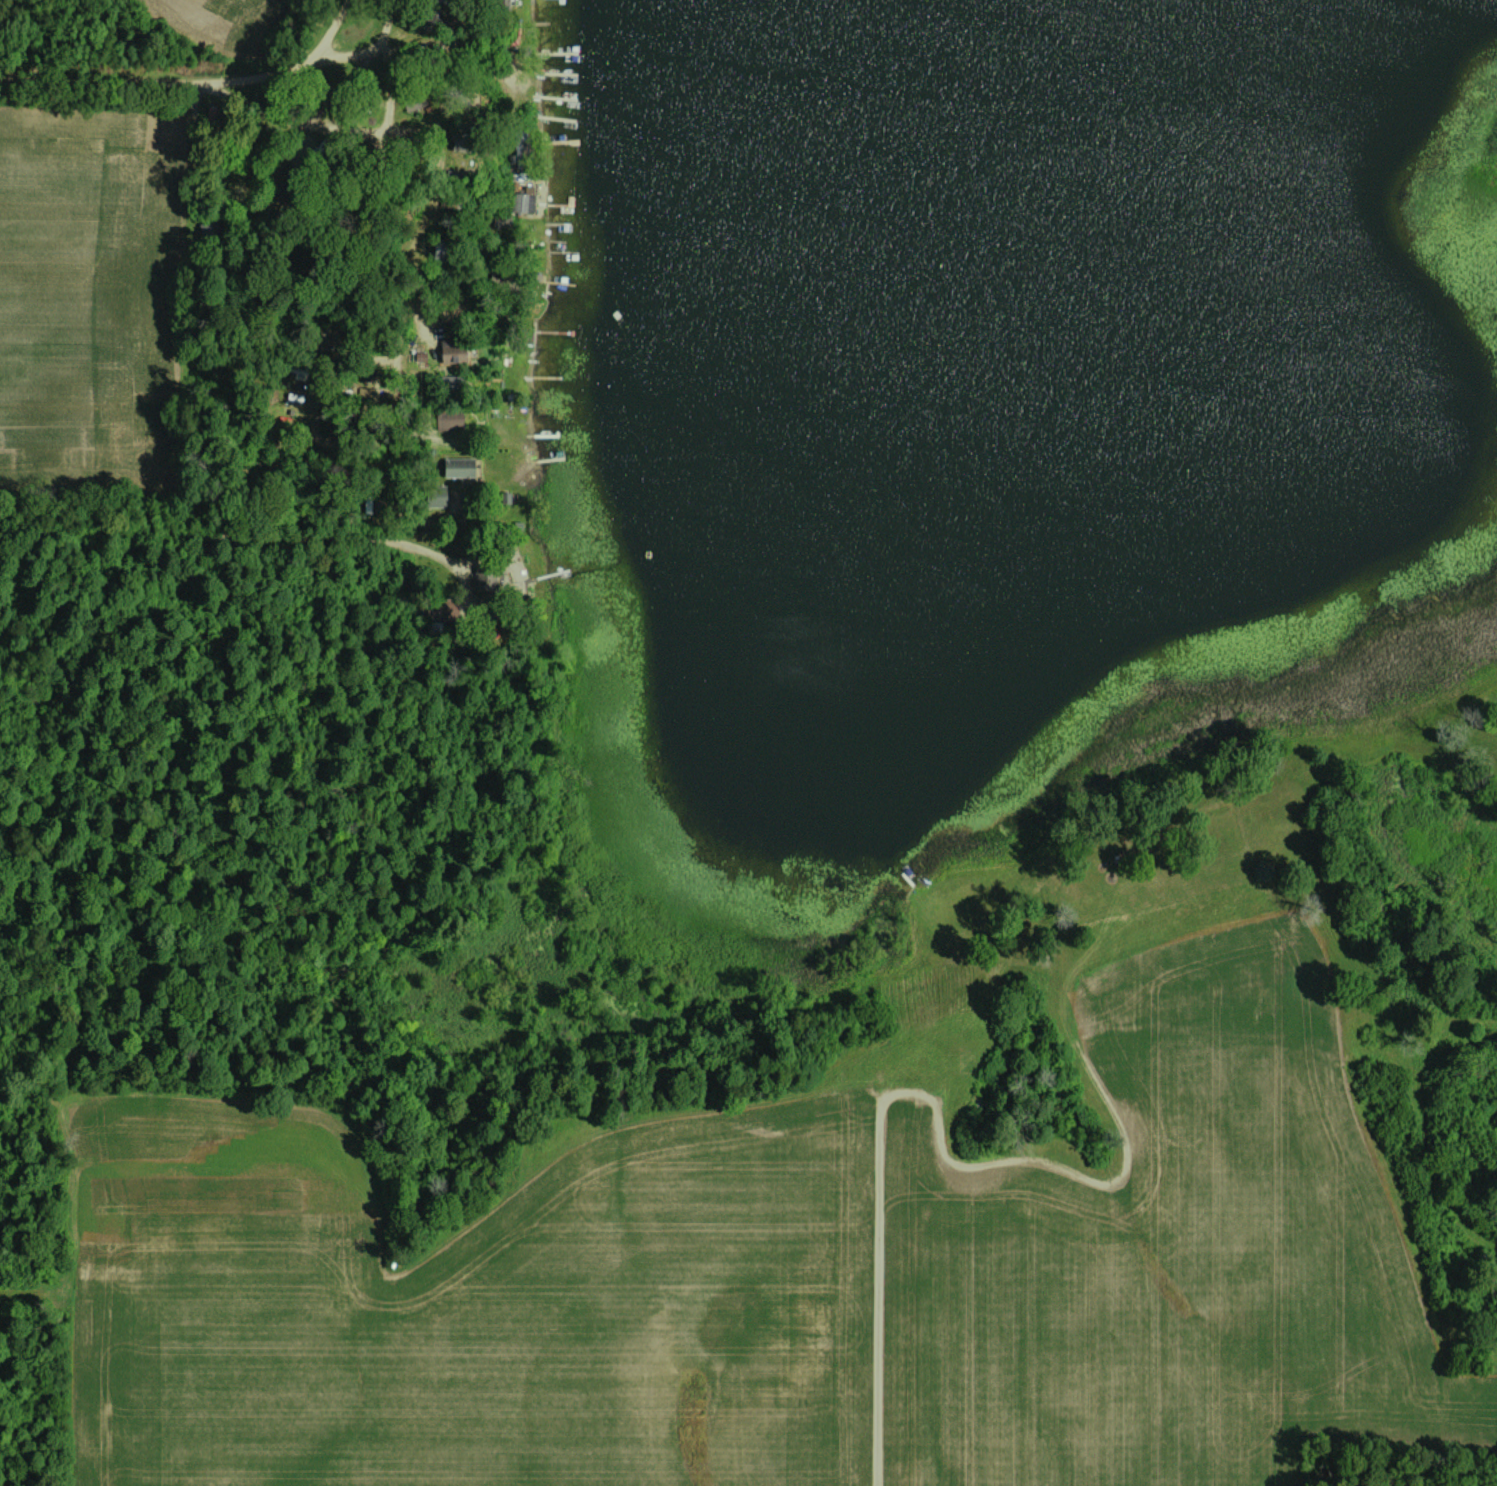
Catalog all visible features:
building: (502, 4)
building: (423, 17)
road: (383, 30)
road: (330, 31)
road: (283, 62)
building: (413, 99)
building: (214, 113)
road: (370, 194)
building: (521, 201)
building: (500, 219)
building: (209, 230)
building: (443, 250)
building: (457, 303)
building: (452, 383)
building: (446, 417)
building: (458, 466)
building: (233, 488)
building: (434, 494)
road: (391, 520)
road: (227, 533)
building: (436, 607)

